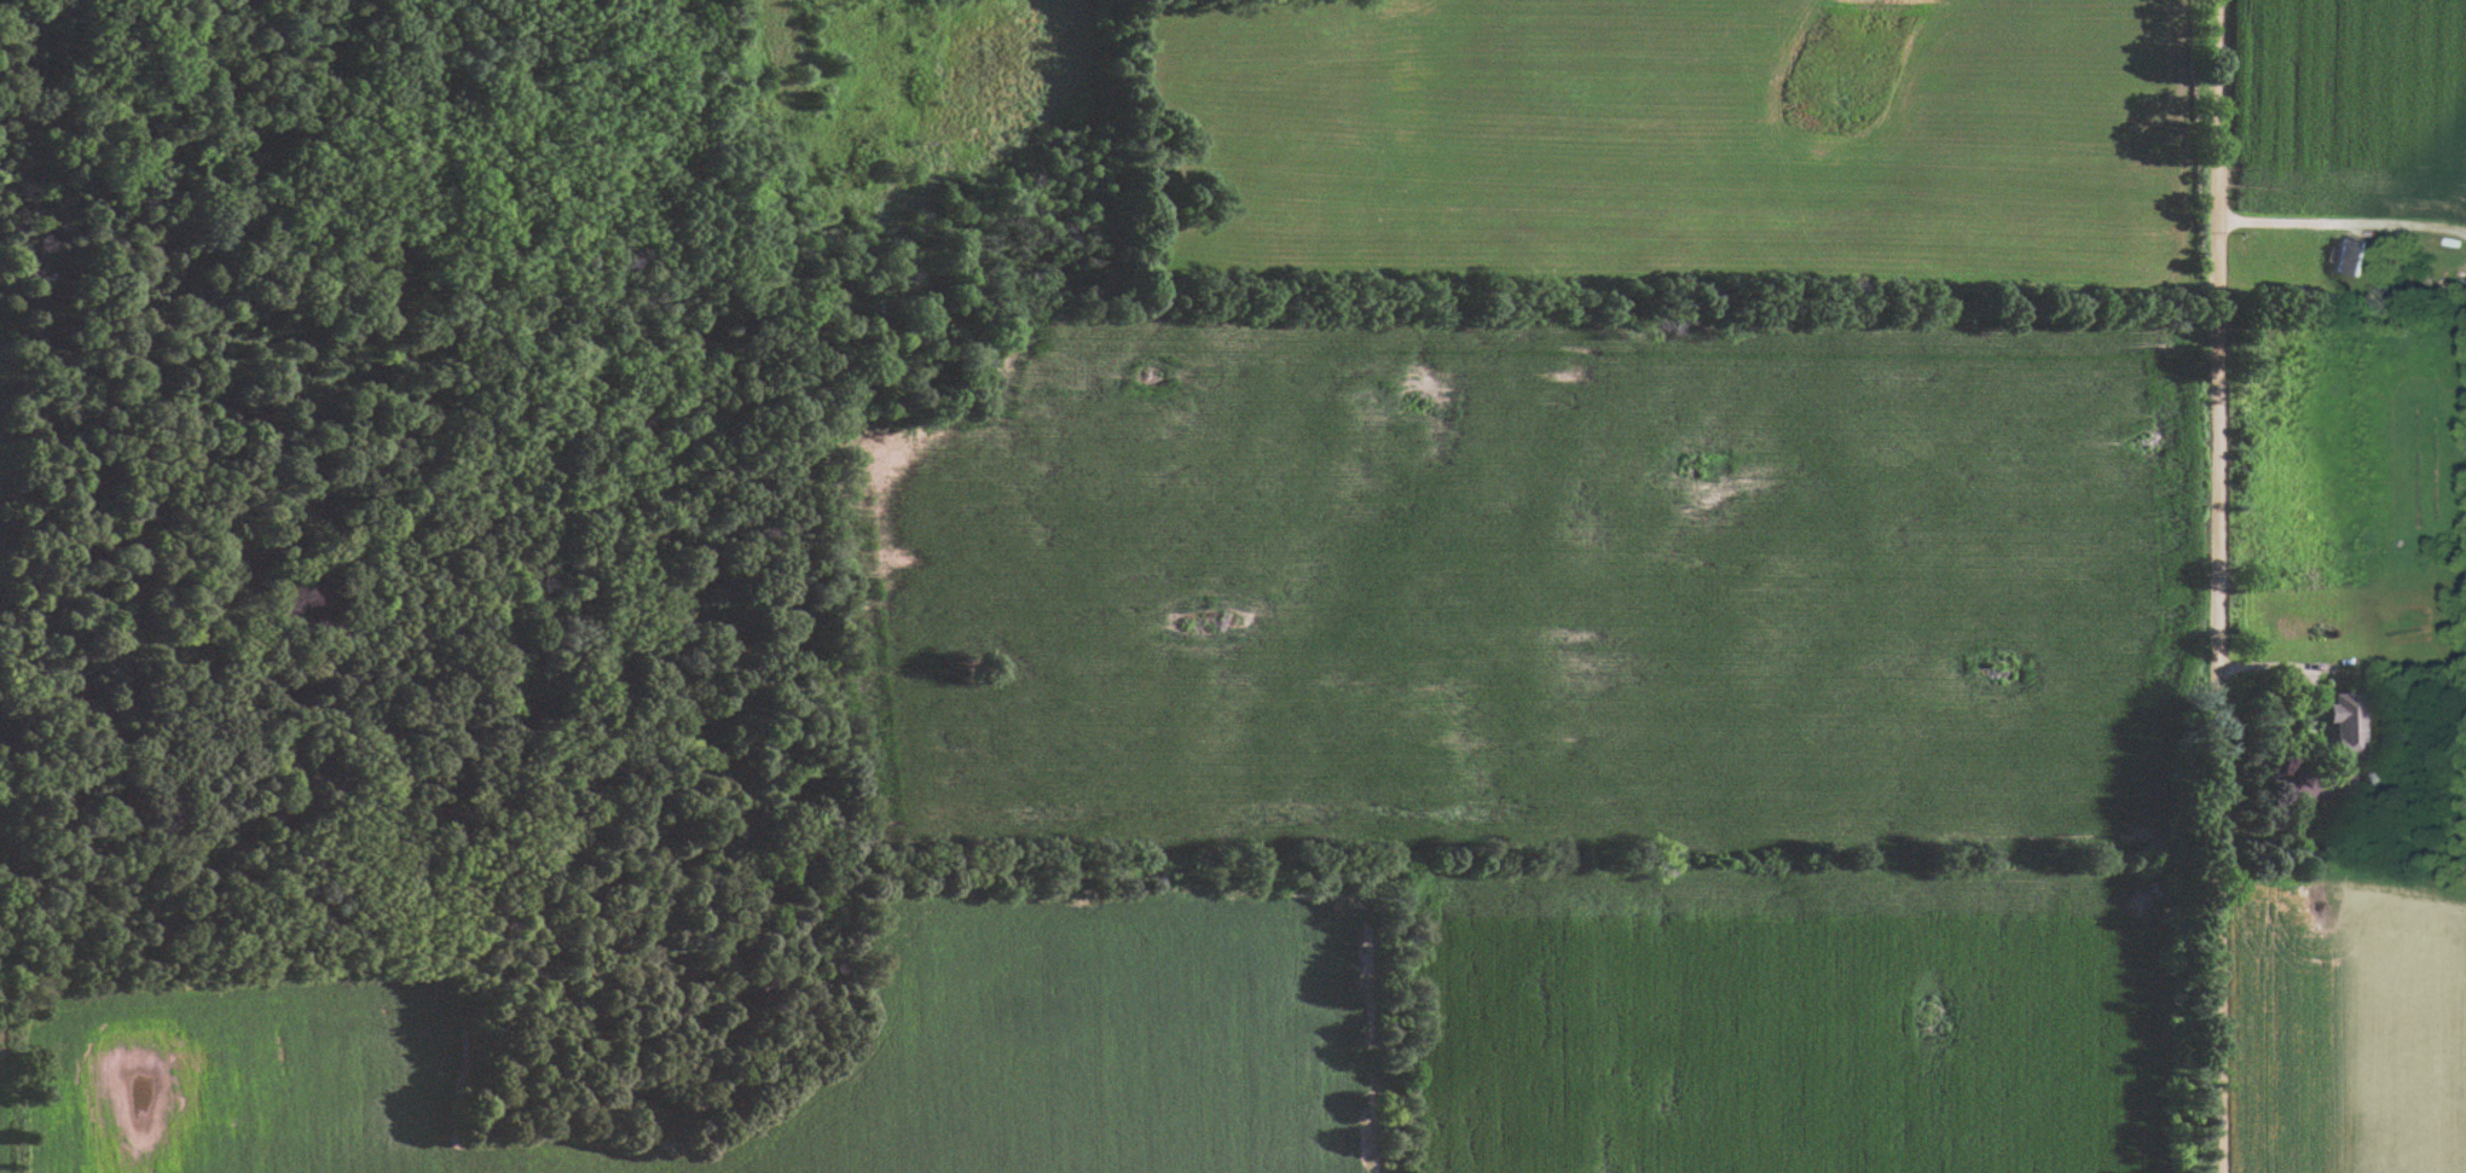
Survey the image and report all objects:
road: (2340, 223)
building: (2350, 259)
road: (2213, 586)
road: (2281, 656)
building: (2348, 727)
building: (2316, 786)

